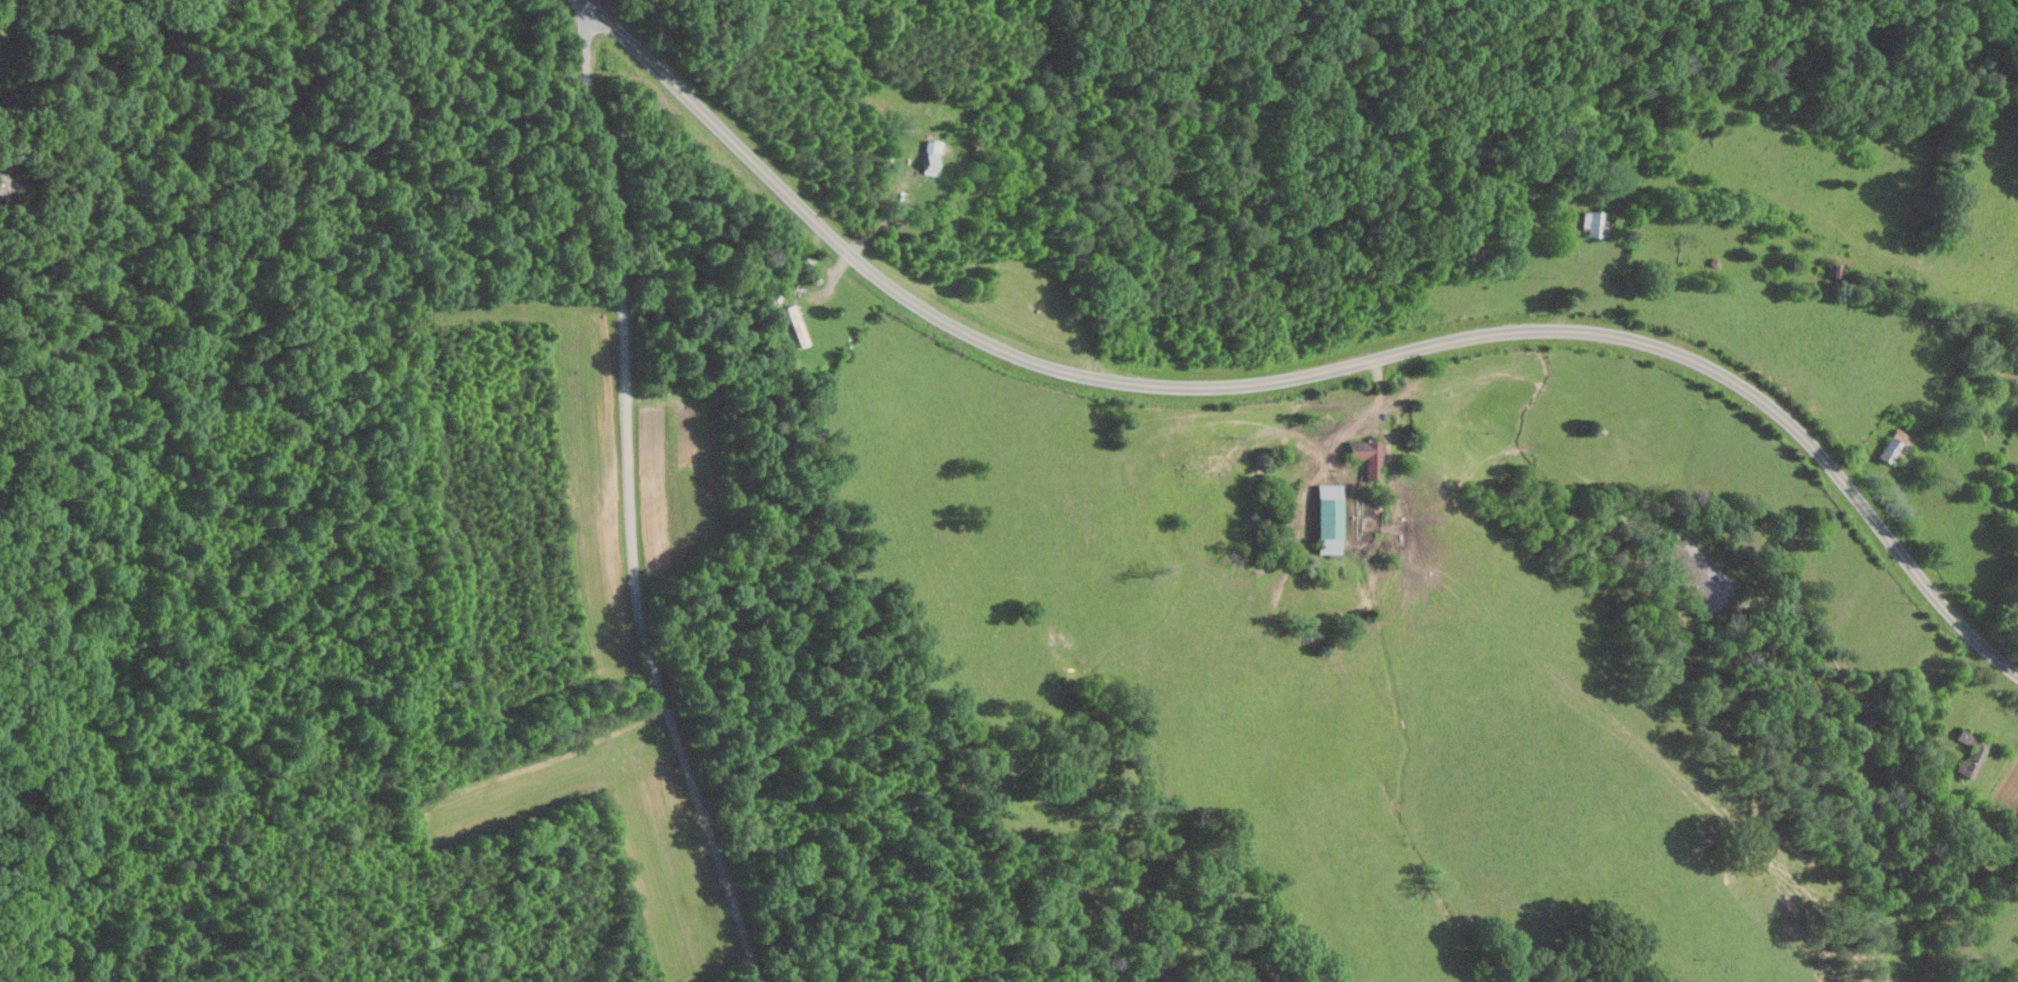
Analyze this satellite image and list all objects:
building: (931, 156)
building: (3, 178)
road: (887, 221)
building: (1597, 222)
road: (1600, 277)
building: (797, 324)
road: (1305, 374)
building: (1897, 444)
building: (1367, 454)
road: (632, 500)
building: (1329, 518)
park: (34, 594)
building: (1972, 752)

